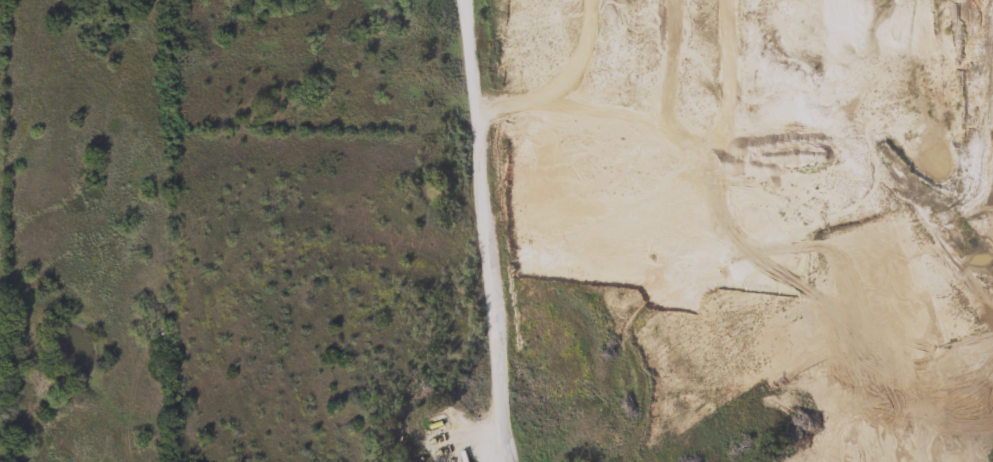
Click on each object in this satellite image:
road: (485, 231)

